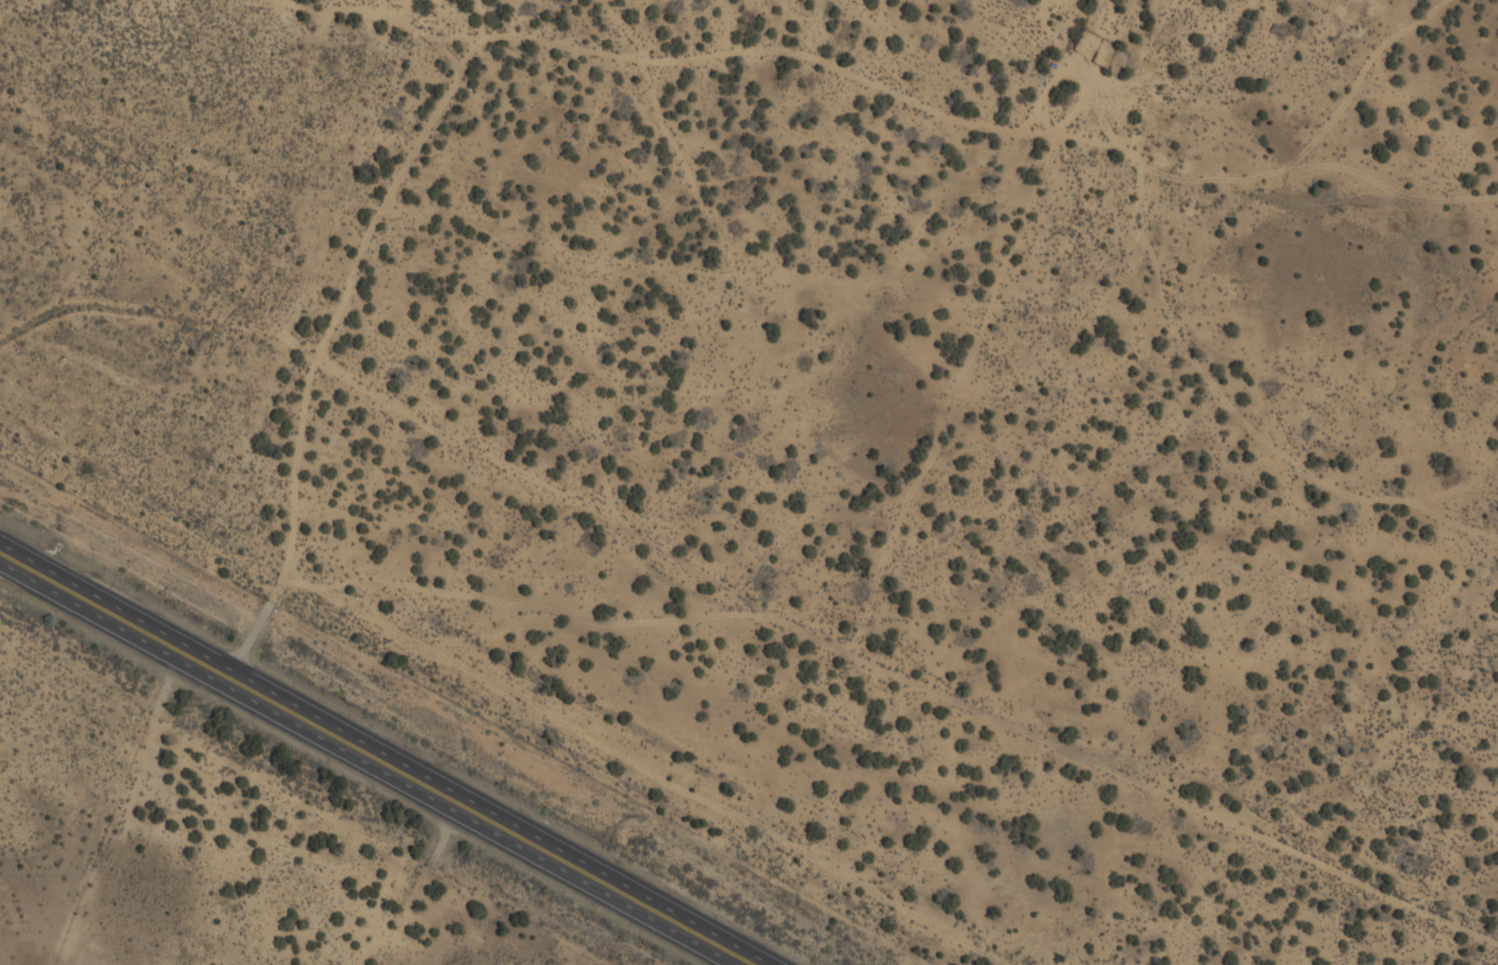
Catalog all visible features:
road: (386, 754)
road: (368, 763)

